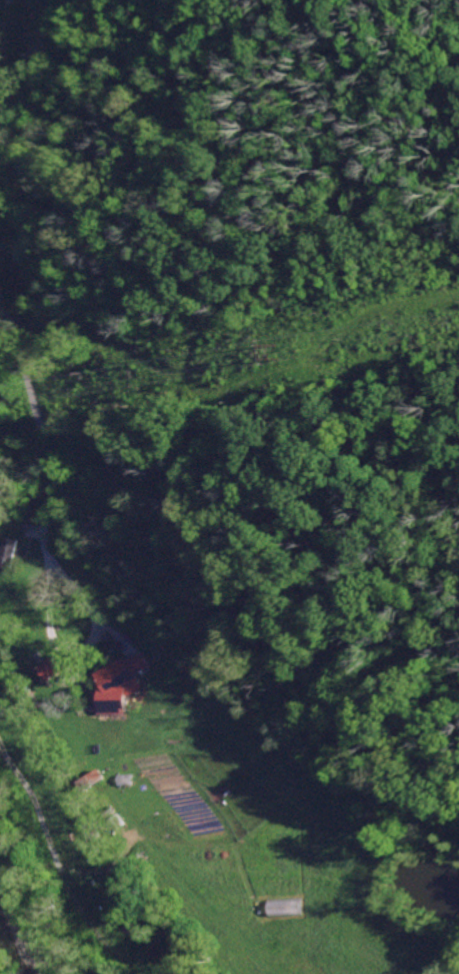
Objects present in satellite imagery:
building: (37, 6)
road: (2, 12)
road: (34, 437)
building: (6, 552)
road: (81, 652)
building: (48, 668)
building: (115, 683)
park: (14, 953)

